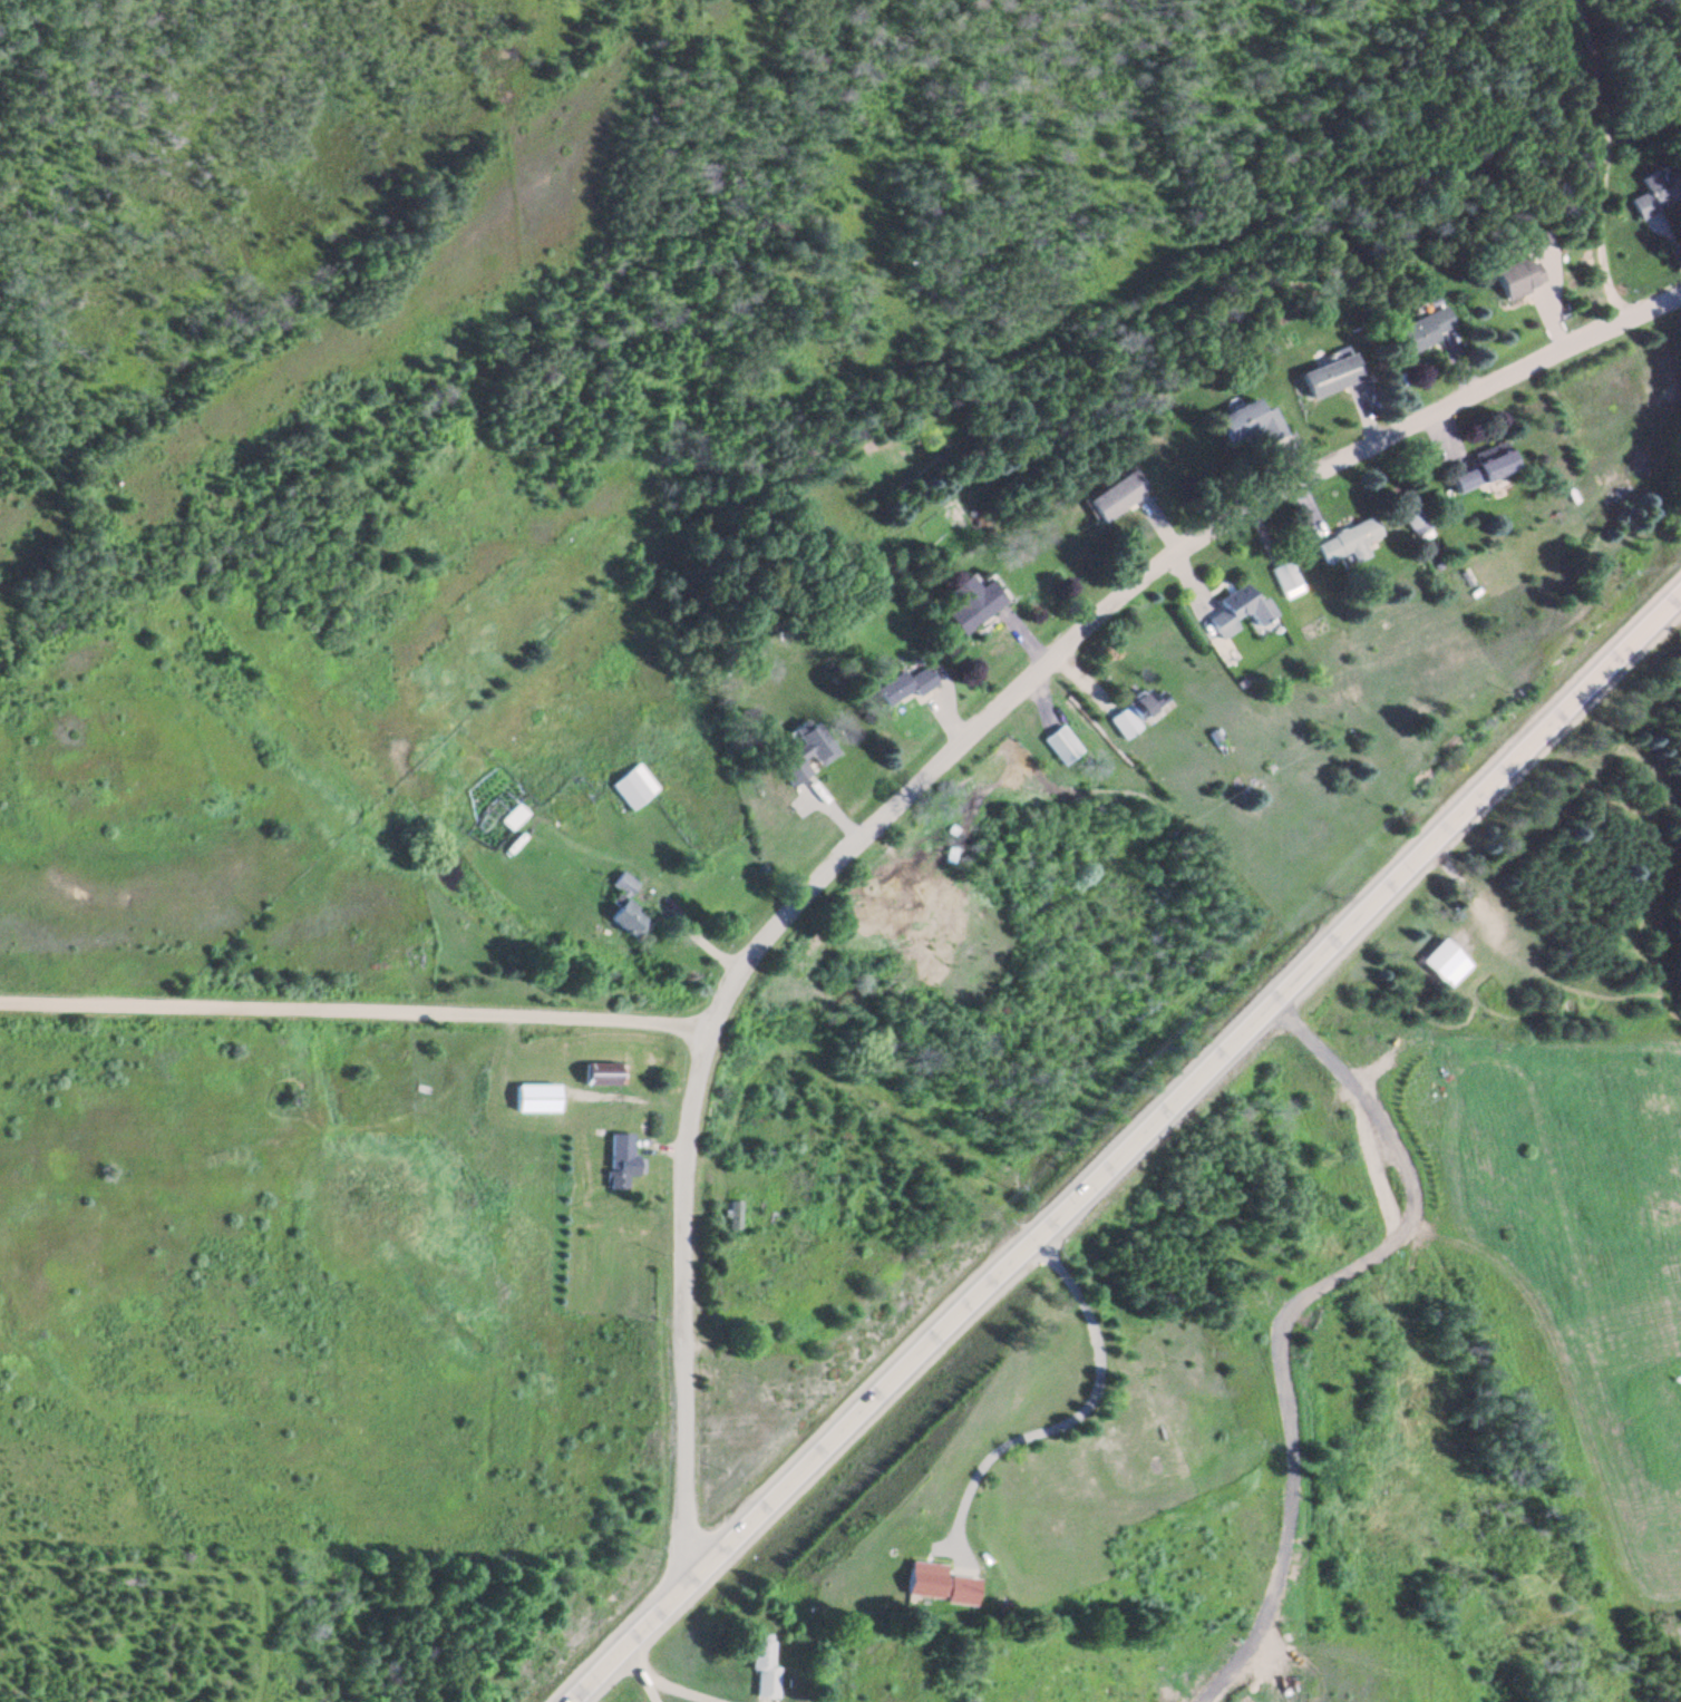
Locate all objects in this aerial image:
road: (1601, 159)
building: (1655, 195)
building: (1515, 280)
building: (1421, 333)
building: (1330, 378)
building: (1248, 426)
building: (1484, 469)
building: (1115, 498)
building: (1412, 521)
building: (1349, 545)
building: (1285, 580)
building: (971, 605)
building: (1238, 613)
building: (904, 688)
building: (1149, 706)
building: (1124, 726)
building: (1060, 748)
building: (804, 756)
road: (930, 775)
building: (632, 789)
building: (625, 911)
building: (1444, 966)
road: (357, 1013)
building: (602, 1077)
building: (535, 1101)
road: (1129, 1150)
building: (621, 1165)
building: (733, 1217)
building: (937, 1586)
building: (764, 1671)

